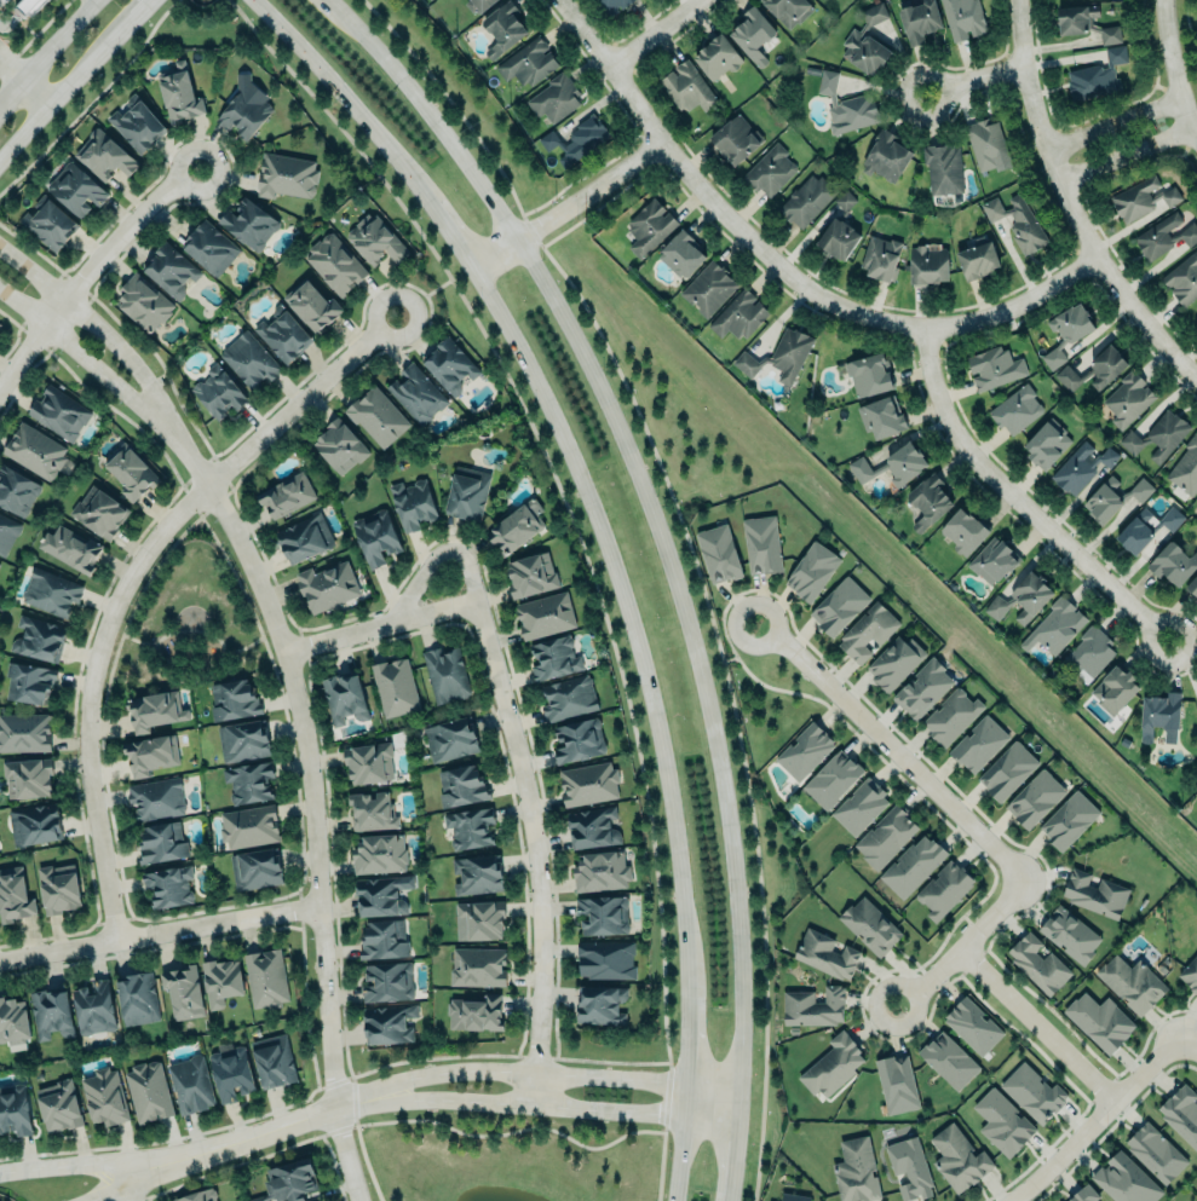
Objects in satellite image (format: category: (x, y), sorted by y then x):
building: (479, 5)
building: (611, 6)
building: (27, 7)
building: (788, 10)
road: (138, 13)
building: (963, 18)
building: (920, 21)
building: (1083, 22)
building: (501, 29)
road: (650, 30)
road: (1187, 30)
building: (753, 35)
building: (867, 42)
road: (48, 50)
building: (715, 57)
building: (528, 62)
road: (1172, 71)
road: (919, 74)
building: (1095, 75)
road: (25, 79)
building: (686, 88)
road: (62, 93)
building: (178, 93)
building: (554, 98)
road: (92, 100)
building: (846, 105)
building: (244, 109)
road: (1112, 120)
building: (137, 125)
building: (575, 139)
building: (735, 139)
building: (986, 143)
building: (103, 155)
road: (1126, 155)
building: (885, 156)
building: (942, 168)
building: (769, 169)
building: (286, 175)
building: (75, 189)
building: (1141, 198)
building: (806, 200)
road: (1072, 203)
road: (564, 206)
building: (1018, 223)
building: (50, 224)
building: (248, 224)
building: (648, 226)
building: (838, 230)
building: (1163, 236)
building: (375, 239)
building: (209, 247)
building: (680, 254)
building: (879, 256)
building: (978, 260)
building: (335, 264)
road: (782, 264)
building: (927, 264)
building: (169, 270)
road: (88, 273)
building: (1182, 279)
building: (708, 288)
building: (144, 304)
building: (311, 305)
building: (738, 316)
building: (1195, 317)
building: (1067, 331)
building: (283, 334)
road: (102, 335)
building: (777, 356)
building: (249, 359)
building: (448, 365)
building: (994, 366)
road: (91, 368)
building: (1093, 370)
building: (869, 375)
building: (218, 392)
building: (416, 394)
building: (1127, 399)
building: (1015, 409)
building: (59, 411)
building: (378, 416)
building: (881, 417)
building: (1157, 437)
building: (1046, 443)
building: (339, 445)
building: (34, 450)
building: (891, 462)
building: (1082, 466)
building: (1186, 468)
building: (131, 472)
building: (16, 491)
building: (467, 492)
building: (286, 495)
road: (1020, 498)
building: (1111, 498)
building: (928, 501)
building: (412, 503)
building: (99, 512)
building: (516, 527)
building: (1146, 529)
building: (962, 531)
building: (7, 532)
building: (376, 537)
building: (304, 538)
building: (761, 544)
building: (70, 548)
road: (581, 550)
road: (604, 550)
building: (718, 553)
road: (664, 555)
road: (436, 558)
building: (994, 561)
building: (1173, 565)
building: (811, 571)
building: (530, 574)
road: (130, 576)
building: (1192, 584)
building: (327, 585)
building: (50, 593)
building: (1022, 599)
building: (838, 605)
building: (546, 614)
building: (1054, 627)
road: (379, 628)
building: (867, 631)
building: (39, 639)
building: (1089, 652)
building: (554, 657)
building: (892, 662)
building: (445, 675)
building: (28, 683)
building: (395, 687)
building: (922, 688)
building: (1113, 689)
building: (568, 697)
building: (344, 698)
building: (232, 699)
building: (155, 710)
building: (950, 716)
building: (1161, 716)
building: (24, 733)
building: (450, 739)
building: (243, 740)
building: (577, 740)
building: (978, 744)
road: (890, 747)
building: (804, 750)
building: (150, 753)
building: (368, 762)
building: (1006, 770)
building: (28, 778)
building: (833, 779)
building: (248, 783)
building: (588, 784)
building: (461, 785)
building: (156, 798)
building: (1035, 799)
building: (859, 807)
road: (312, 810)
building: (372, 810)
building: (1069, 821)
building: (35, 825)
building: (248, 826)
building: (470, 827)
building: (593, 827)
building: (885, 836)
building: (160, 843)
road: (536, 851)
building: (379, 854)
building: (911, 864)
building: (255, 868)
building: (600, 872)
building: (476, 874)
building: (167, 887)
building: (59, 888)
building: (942, 889)
building: (1093, 891)
building: (15, 895)
building: (380, 895)
building: (603, 914)
building: (482, 919)
building: (869, 925)
building: (1069, 932)
road: (160, 934)
building: (384, 940)
road: (965, 947)
building: (825, 954)
building: (605, 959)
building: (1037, 963)
building: (478, 966)
building: (1190, 972)
building: (266, 978)
building: (220, 982)
building: (387, 982)
building: (1132, 982)
building: (184, 991)
building: (137, 998)
building: (599, 1005)
building: (812, 1006)
building: (94, 1007)
building: (51, 1012)
building: (474, 1012)
building: (12, 1021)
building: (1099, 1021)
building: (972, 1023)
building: (389, 1024)
road: (1037, 1026)
road: (1189, 1041)
building: (948, 1058)
building: (272, 1061)
building: (833, 1064)
building: (230, 1074)
road: (545, 1074)
building: (896, 1082)
building: (190, 1085)
road: (329, 1086)
building: (149, 1092)
building: (1031, 1092)
building: (104, 1097)
road: (352, 1105)
building: (59, 1107)
road: (547, 1107)
building: (15, 1111)
building: (1181, 1111)
road: (1095, 1119)
road: (399, 1121)
building: (1002, 1121)
road: (240, 1139)
building: (1155, 1151)
building: (957, 1159)
road: (61, 1167)
building: (909, 1167)
building: (856, 1171)
building: (288, 1179)
building: (1124, 1179)
road: (123, 1188)
road: (105, 1189)
building: (1083, 1194)
building: (197, 1196)

